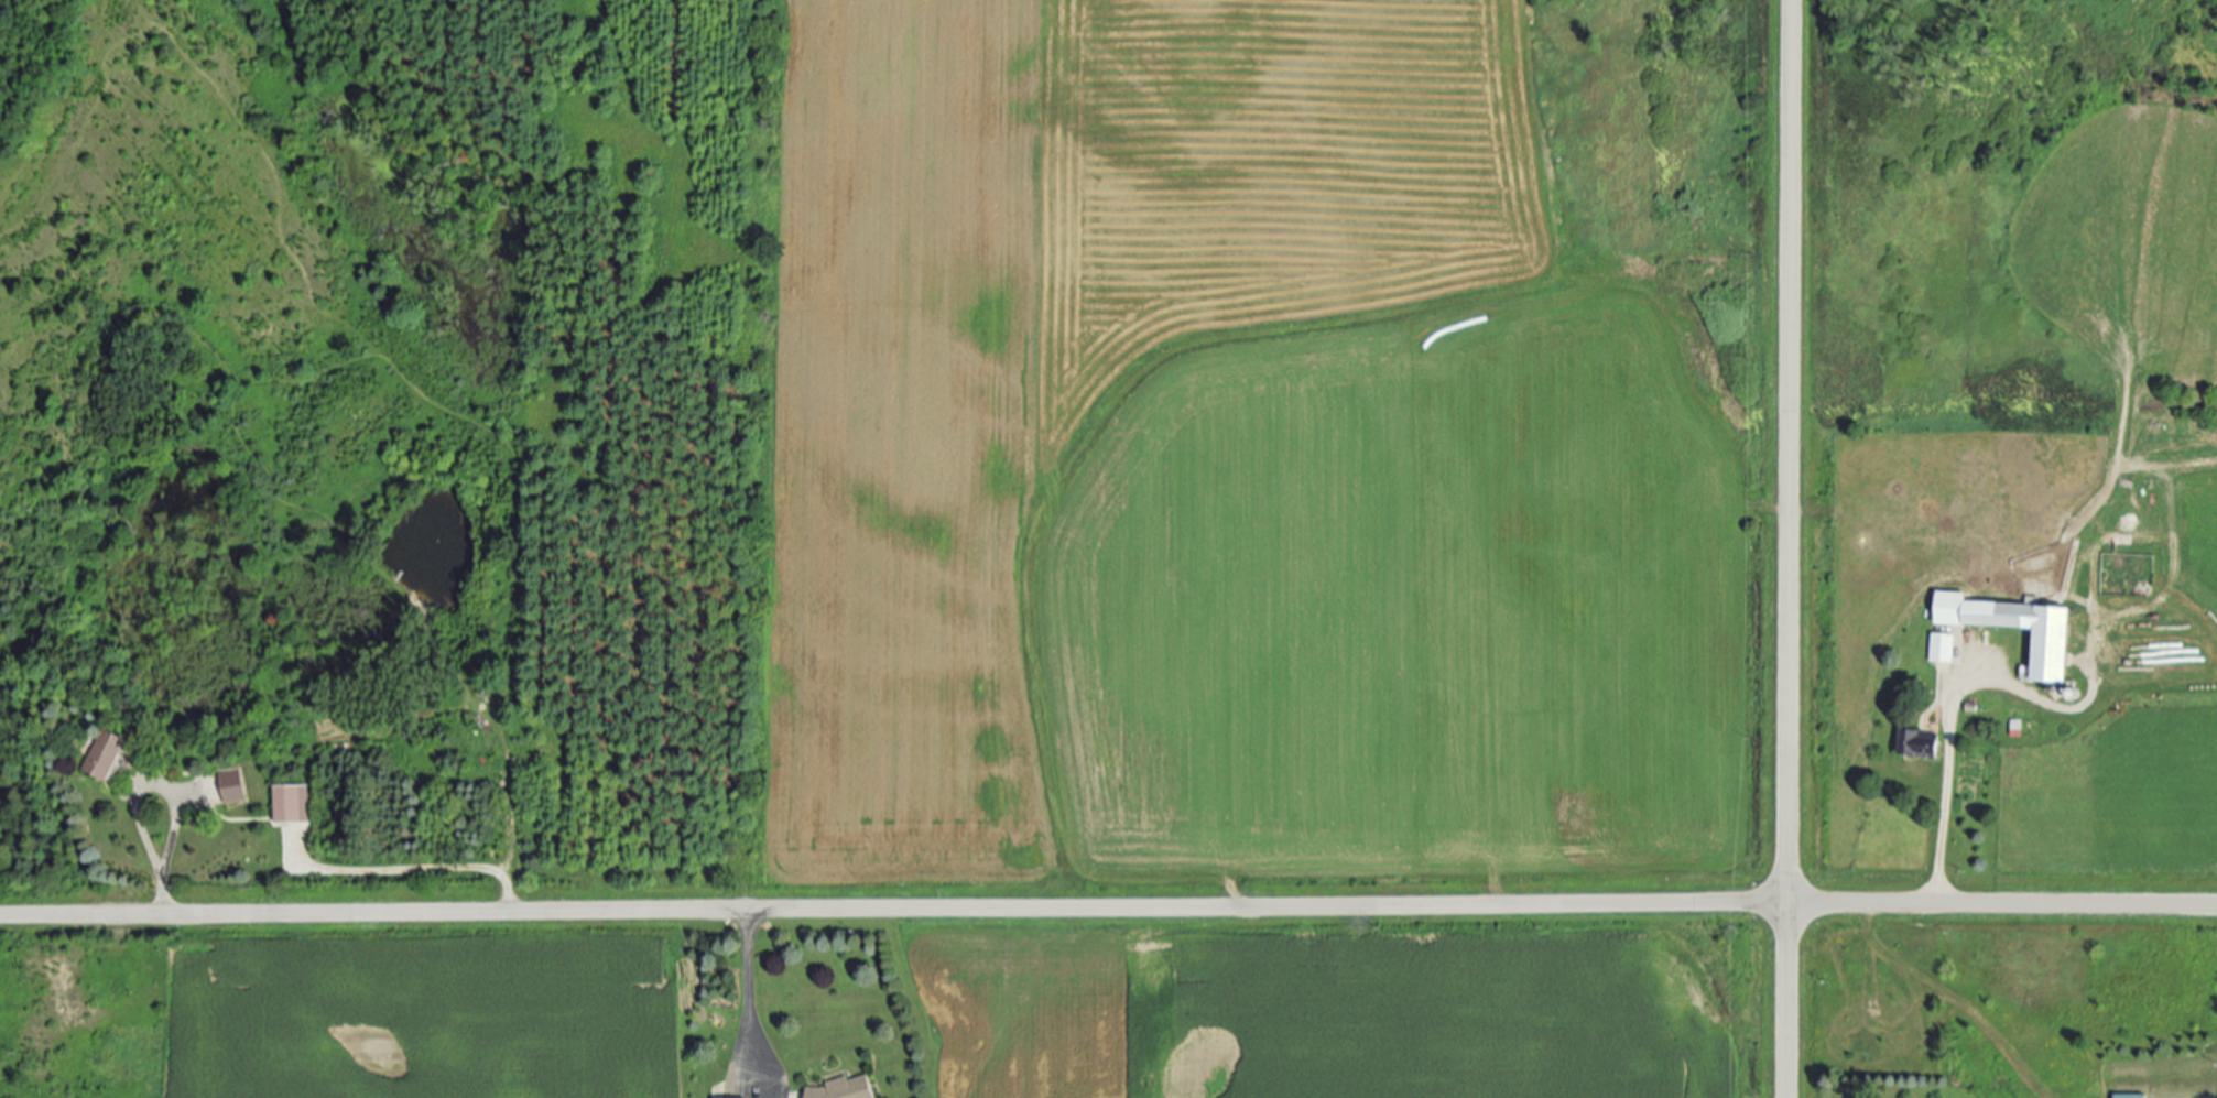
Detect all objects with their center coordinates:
road: (1787, 548)
building: (1944, 646)
building: (2054, 646)
road: (1955, 694)
building: (108, 754)
building: (232, 785)
road: (140, 789)
building: (293, 803)
road: (417, 869)
road: (1108, 907)
road: (747, 986)
building: (846, 1088)
building: (2132, 1096)

